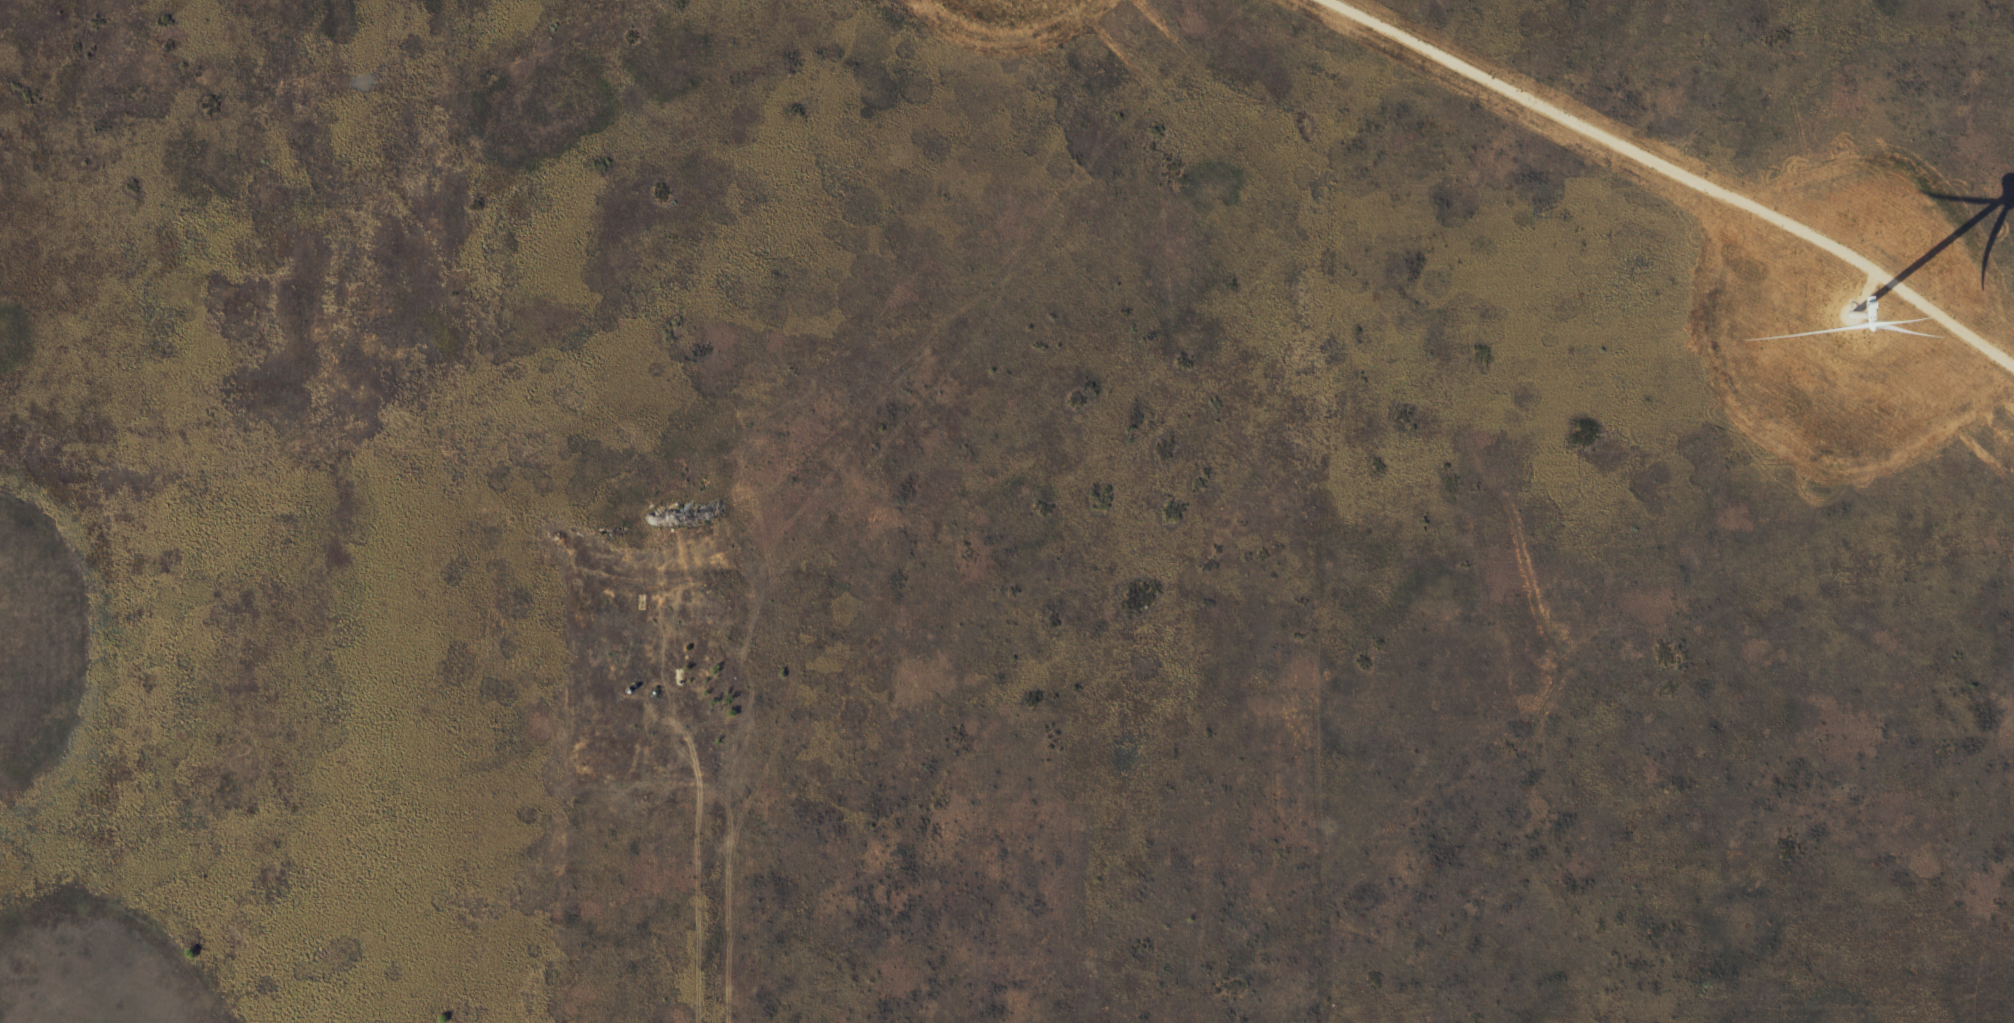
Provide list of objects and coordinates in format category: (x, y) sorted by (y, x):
wind turbine: (1849, 310)

